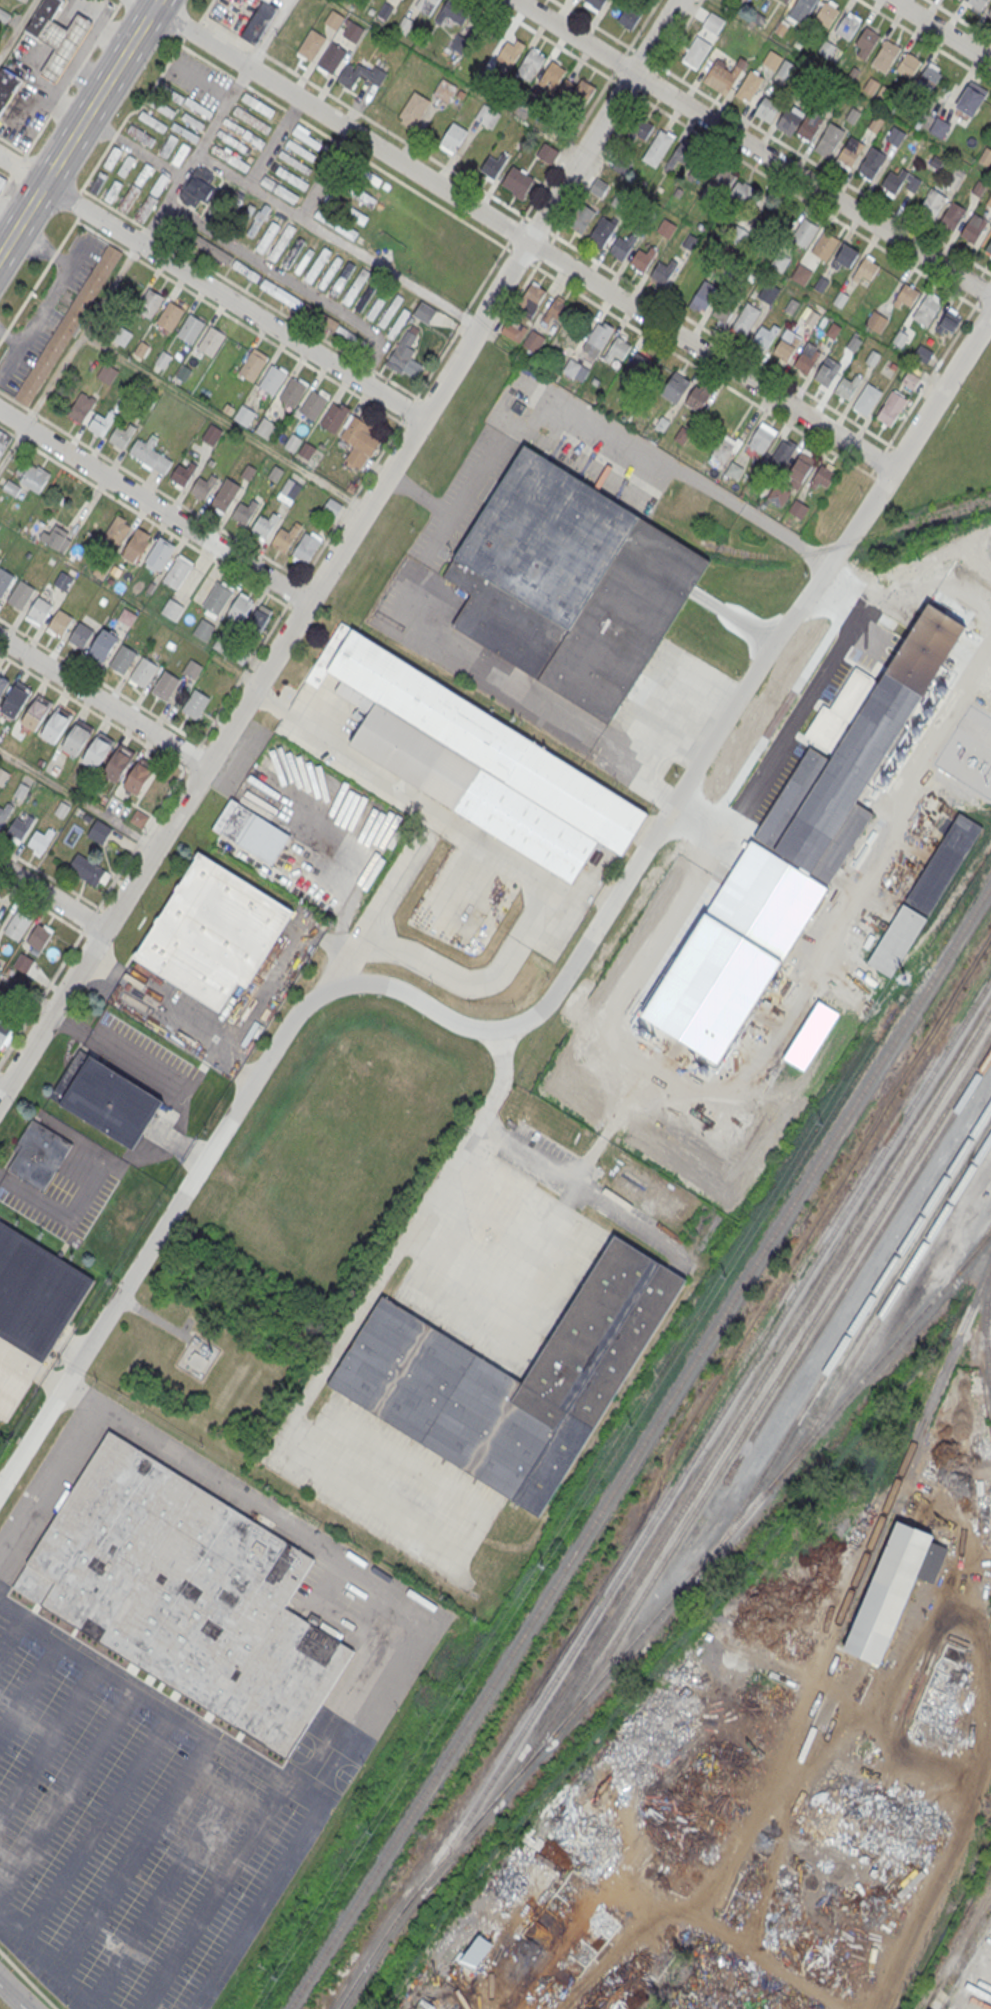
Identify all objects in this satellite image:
building: (22, 0)
building: (270, 0)
building: (786, 0)
road: (113, 3)
building: (594, 3)
building: (977, 3)
building: (426, 5)
building: (800, 9)
road: (207, 10)
building: (452, 11)
building: (988, 11)
building: (826, 14)
building: (44, 17)
building: (629, 17)
building: (334, 19)
road: (960, 19)
building: (260, 23)
building: (847, 26)
road: (17, 28)
road: (192, 28)
road: (942, 30)
road: (269, 32)
building: (353, 32)
building: (867, 39)
road: (925, 40)
building: (311, 44)
building: (63, 45)
building: (826, 48)
building: (696, 52)
building: (510, 53)
building: (886, 55)
building: (332, 57)
road: (207, 59)
building: (772, 59)
building: (530, 65)
building: (907, 65)
building: (786, 69)
building: (723, 74)
building: (352, 75)
building: (929, 77)
building: (552, 78)
road: (71, 79)
road: (241, 80)
building: (749, 85)
building: (871, 86)
building: (7, 88)
building: (583, 92)
building: (883, 93)
road: (267, 96)
building: (971, 98)
building: (186, 101)
building: (257, 104)
building: (161, 106)
building: (766, 109)
road: (589, 110)
building: (413, 111)
road: (130, 112)
road: (292, 112)
building: (852, 115)
road: (367, 117)
building: (251, 119)
building: (790, 119)
road: (626, 120)
building: (151, 121)
building: (875, 123)
building: (809, 125)
road: (78, 126)
building: (939, 127)
road: (318, 128)
building: (641, 129)
building: (185, 132)
building: (243, 132)
building: (140, 135)
road: (771, 135)
building: (895, 135)
building: (307, 137)
building: (829, 138)
building: (231, 140)
road: (274, 140)
building: (451, 141)
road: (344, 144)
building: (168, 145)
road: (12, 146)
road: (134, 146)
building: (658, 147)
road: (752, 148)
building: (850, 152)
building: (180, 154)
building: (547, 154)
road: (733, 154)
building: (986, 155)
road: (196, 156)
building: (683, 156)
building: (111, 157)
building: (230, 158)
building: (294, 162)
building: (871, 162)
building: (126, 165)
building: (492, 167)
road: (16, 168)
road: (327, 174)
building: (289, 176)
road: (4, 177)
building: (955, 178)
building: (900, 180)
building: (97, 182)
building: (517, 184)
road: (5, 186)
building: (198, 186)
building: (135, 187)
building: (717, 187)
building: (978, 187)
building: (279, 189)
building: (112, 190)
building: (744, 192)
building: (152, 197)
road: (431, 199)
building: (988, 200)
building: (932, 202)
road: (78, 203)
building: (345, 209)
building: (215, 215)
building: (953, 215)
building: (581, 219)
building: (257, 220)
building: (335, 224)
road: (540, 224)
building: (973, 228)
building: (667, 229)
road: (515, 230)
building: (601, 232)
building: (802, 232)
road: (519, 233)
building: (266, 237)
road: (338, 240)
building: (281, 242)
building: (622, 245)
building: (824, 247)
building: (988, 248)
road: (546, 249)
building: (292, 252)
building: (217, 254)
road: (520, 255)
building: (846, 257)
building: (643, 258)
building: (302, 261)
building: (780, 263)
building: (317, 264)
building: (867, 269)
building: (664, 270)
building: (329, 271)
building: (801, 275)
road: (38, 278)
building: (341, 278)
road: (291, 282)
building: (685, 284)
building: (355, 286)
road: (210, 288)
road: (985, 289)
road: (248, 292)
building: (283, 292)
building: (768, 294)
building: (907, 294)
building: (704, 295)
building: (365, 296)
road: (517, 298)
building: (532, 298)
building: (150, 303)
building: (375, 305)
building: (725, 306)
building: (791, 306)
building: (926, 308)
parking lot: (48, 310)
building: (389, 310)
road: (985, 311)
building: (425, 312)
building: (556, 312)
building: (170, 315)
building: (811, 317)
building: (746, 318)
road: (238, 321)
building: (876, 321)
building: (949, 321)
building: (398, 322)
building: (68, 323)
building: (190, 328)
building: (514, 330)
building: (345, 334)
building: (599, 335)
road: (81, 336)
building: (122, 336)
building: (764, 337)
road: (720, 338)
building: (211, 340)
building: (532, 342)
building: (141, 349)
building: (617, 349)
building: (784, 349)
building: (403, 351)
building: (923, 353)
building: (806, 358)
building: (163, 359)
building: (637, 364)
building: (251, 365)
road: (703, 369)
building: (826, 371)
building: (107, 372)
building: (183, 373)
road: (932, 373)
building: (273, 379)
building: (910, 380)
building: (846, 386)
building: (676, 387)
building: (293, 392)
building: (699, 397)
building: (867, 399)
building: (314, 405)
building: (81, 407)
building: (892, 408)
building: (244, 415)
building: (335, 416)
road: (224, 421)
building: (101, 422)
road: (591, 423)
building: (265, 427)
building: (210, 433)
building: (121, 435)
building: (361, 439)
building: (762, 439)
building: (4, 442)
building: (292, 442)
road: (12, 446)
building: (307, 450)
building: (725, 450)
road: (896, 450)
building: (783, 453)
building: (150, 454)
road: (880, 457)
road: (872, 469)
building: (799, 470)
building: (248, 472)
building: (275, 472)
building: (183, 473)
building: (31, 475)
building: (823, 477)
road: (880, 480)
road: (151, 485)
building: (203, 485)
building: (290, 488)
building: (225, 494)
building: (778, 496)
road: (154, 506)
building: (331, 506)
building: (798, 509)
building: (244, 511)
road: (143, 515)
building: (265, 523)
building: (116, 533)
building: (285, 536)
building: (56, 538)
building: (136, 543)
building: (307, 545)
road: (340, 549)
building: (161, 551)
railway: (785, 554)
building: (177, 571)
road: (304, 575)
building: (4, 580)
building: (63, 580)
building: (571, 582)
building: (20, 593)
building: (218, 598)
building: (240, 608)
building: (172, 609)
building: (38, 610)
building: (127, 617)
building: (259, 618)
building: (59, 623)
building: (204, 629)
building: (79, 635)
building: (102, 644)
building: (122, 658)
building: (192, 668)
building: (143, 671)
road: (488, 678)
road: (100, 681)
building: (3, 684)
building: (165, 684)
road: (818, 698)
building: (16, 700)
road: (103, 700)
building: (195, 703)
road: (92, 710)
building: (36, 712)
building: (56, 723)
building: (78, 738)
building: (869, 746)
building: (98, 750)
building: (476, 758)
building: (118, 763)
building: (3, 775)
building: (139, 776)
building: (21, 789)
road: (77, 798)
building: (62, 808)
building: (5, 811)
building: (139, 817)
parking lot: (299, 817)
building: (20, 826)
building: (99, 830)
building: (73, 834)
road: (731, 835)
building: (41, 839)
building: (267, 839)
road: (510, 862)
building: (88, 870)
road: (51, 876)
building: (927, 894)
road: (52, 895)
road: (582, 895)
road: (380, 902)
road: (43, 905)
road: (107, 911)
road: (89, 919)
building: (17, 925)
building: (214, 932)
building: (39, 935)
road: (92, 937)
road: (327, 940)
building: (23, 963)
road: (267, 986)
parking lot: (141, 990)
road: (41, 996)
road: (541, 1008)
road: (175, 1013)
building: (4, 1034)
road: (226, 1042)
road: (1, 1071)
road: (7, 1074)
parking lot: (149, 1085)
road: (497, 1086)
road: (2, 1088)
building: (105, 1098)
building: (38, 1154)
parking lot: (66, 1185)
road: (34, 1202)
railway: (971, 1251)
railway: (863, 1257)
building: (31, 1309)
railway: (881, 1313)
railway: (985, 1332)
parking lot: (462, 1333)
railway: (843, 1339)
building: (197, 1356)
building: (512, 1378)
railway: (771, 1388)
road: (92, 1403)
railway: (745, 1407)
railway: (707, 1432)
railway: (640, 1447)
road: (274, 1517)
railway: (853, 1585)
railway: (681, 1586)
building: (892, 1589)
building: (182, 1596)
road: (11, 1638)
road: (29, 1690)
road: (48, 1746)
road: (257, 1768)
road: (67, 1797)
road: (942, 1800)
road: (98, 1828)
parking lot: (130, 1836)
road: (135, 1859)
road: (168, 1884)
road: (210, 1896)
railway: (957, 1948)
road: (45, 1965)
railway: (358, 1977)
road: (13, 1996)

